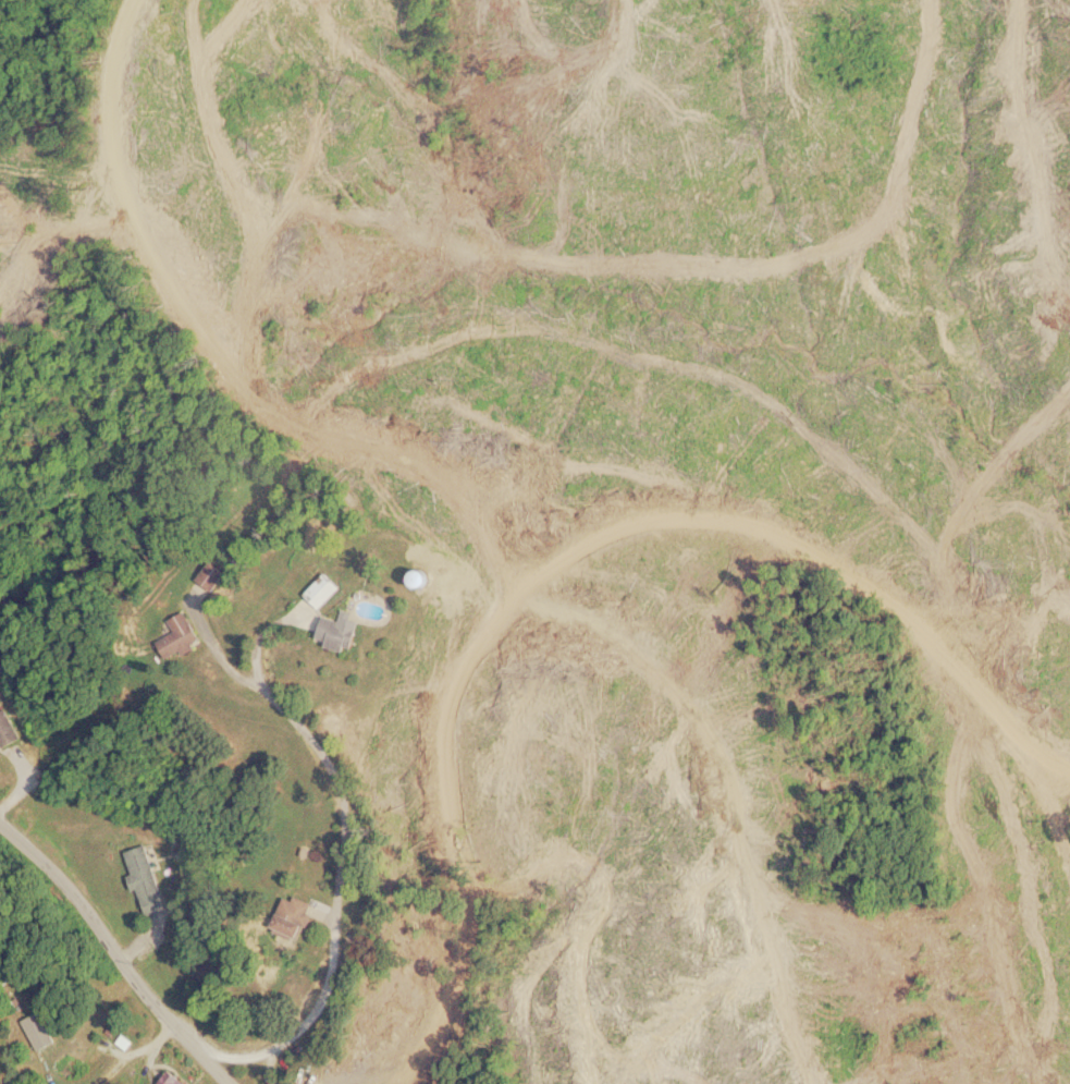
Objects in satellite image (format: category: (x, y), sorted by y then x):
building: (209, 573)
building: (419, 576)
building: (321, 587)
building: (337, 629)
building: (180, 633)
building: (7, 727)
road: (342, 849)
building: (144, 876)
building: (293, 914)
road: (116, 952)
building: (36, 1027)
building: (169, 1079)

